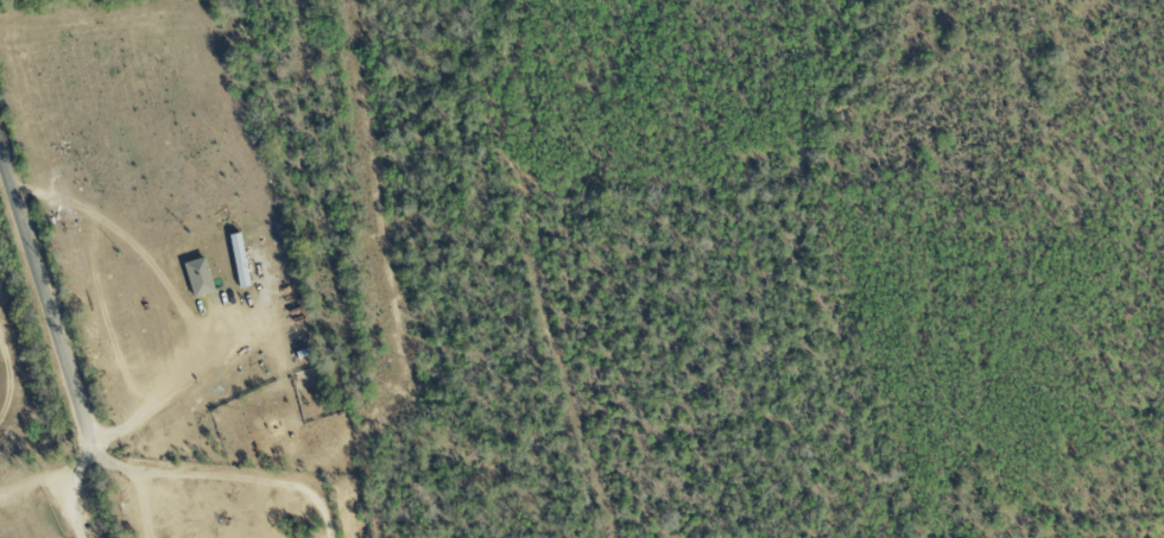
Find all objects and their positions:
road: (492, 94)
building: (238, 259)
building: (196, 276)
road: (44, 293)
road: (12, 386)
road: (177, 395)
road: (102, 455)
road: (39, 479)
road: (242, 480)
road: (75, 485)
road: (143, 501)

